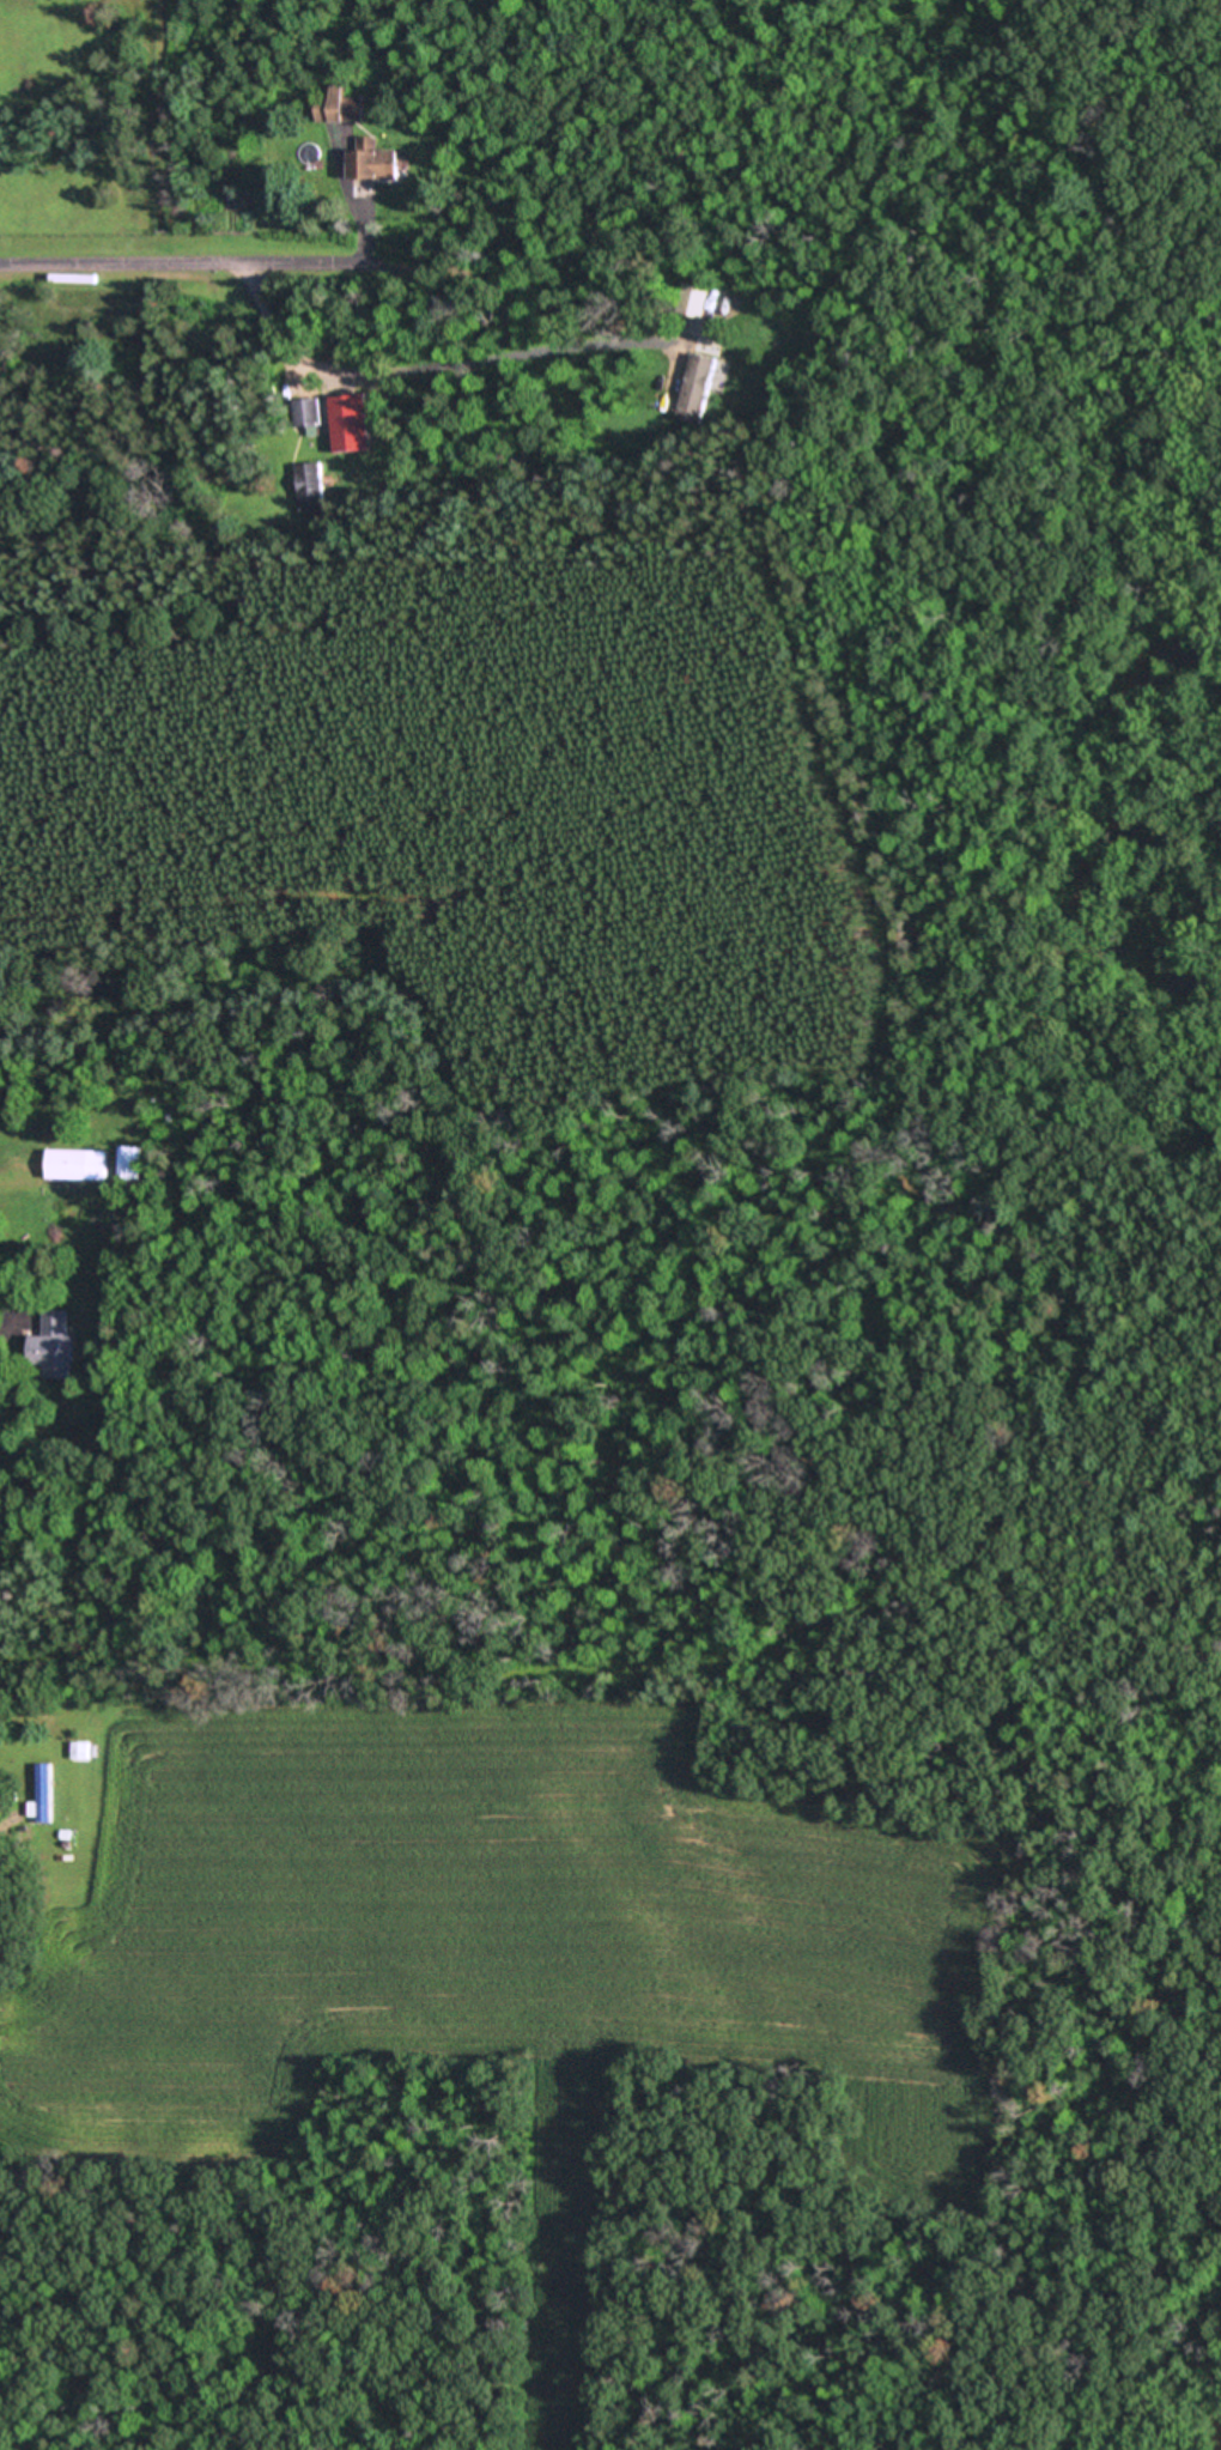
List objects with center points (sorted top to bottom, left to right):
building: (344, 107)
building: (377, 165)
road: (190, 267)
building: (695, 299)
road: (436, 360)
building: (308, 412)
building: (311, 485)
building: (129, 1162)
building: (79, 1164)
building: (57, 1344)
building: (80, 1751)
building: (44, 1794)

